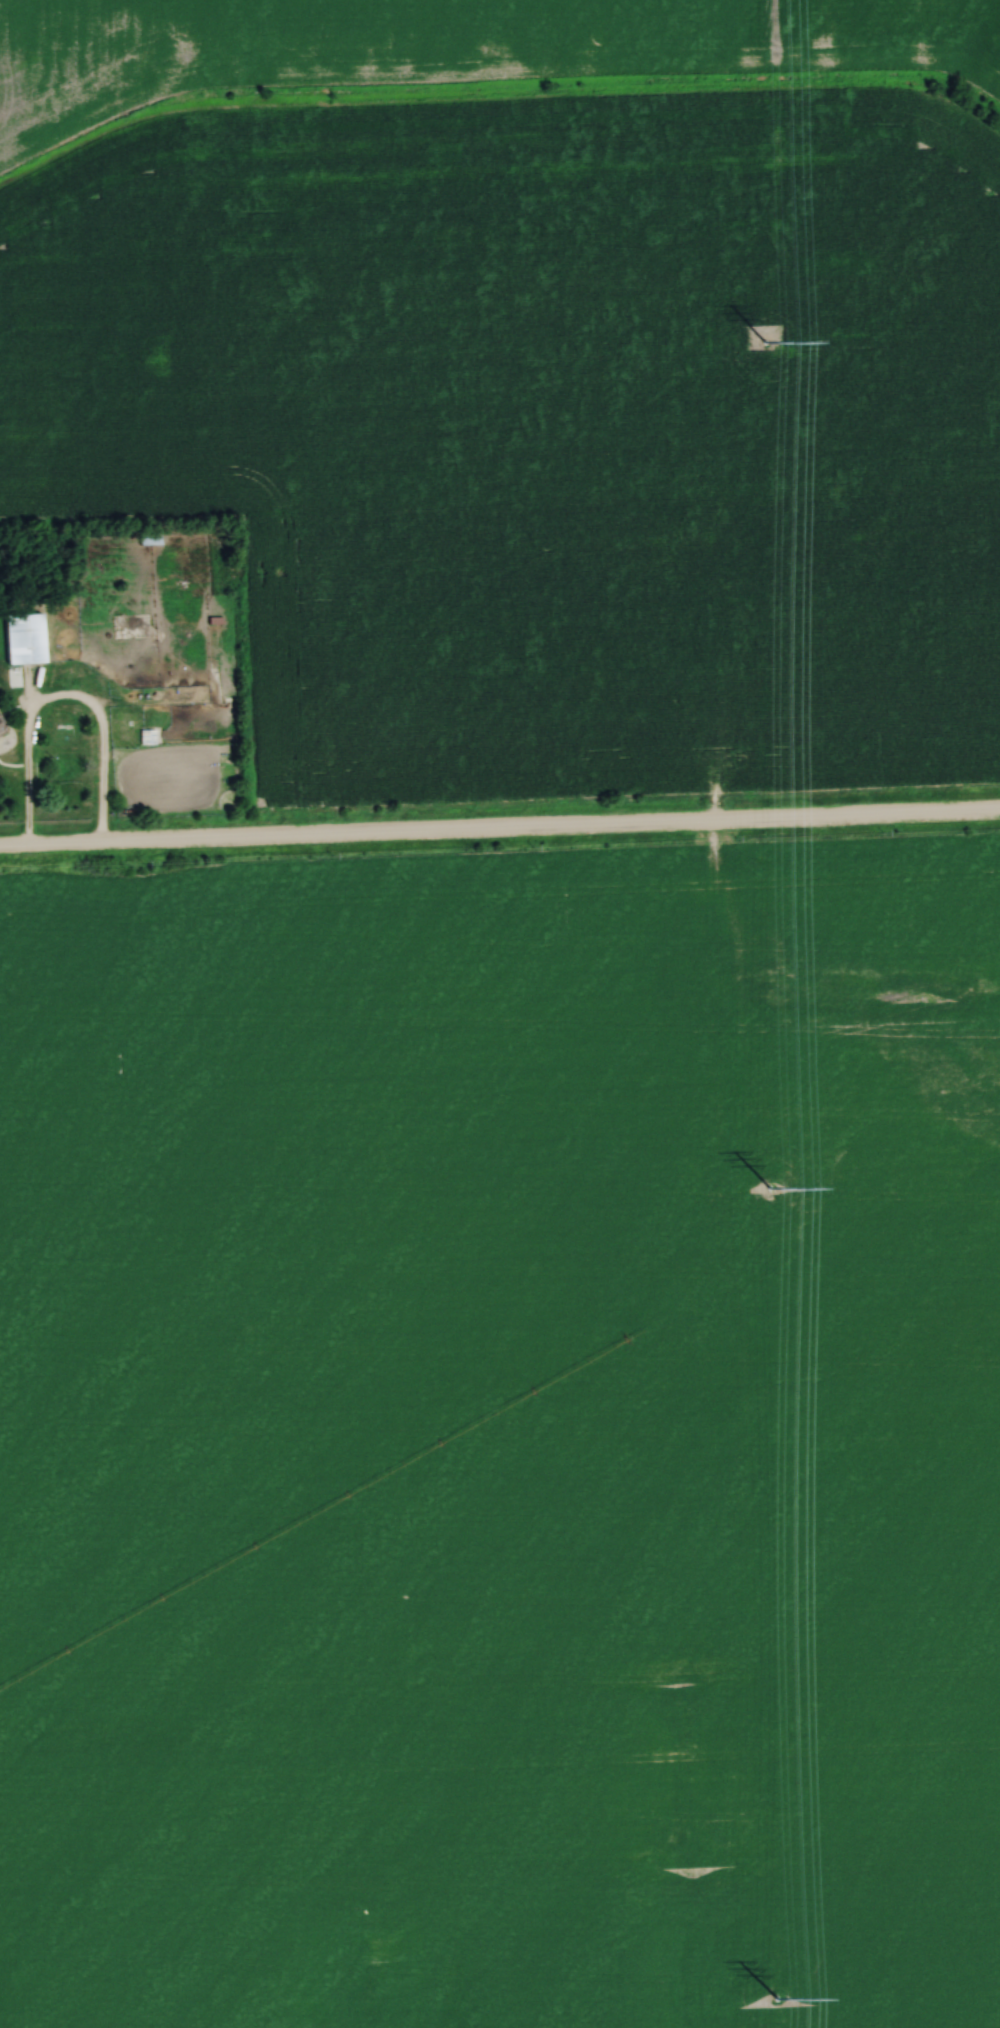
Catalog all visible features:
power tower: (764, 342)
building: (149, 540)
building: (23, 638)
road: (63, 697)
building: (145, 738)
building: (4, 742)
road: (500, 830)
power tower: (769, 1188)
power tower: (772, 1998)

